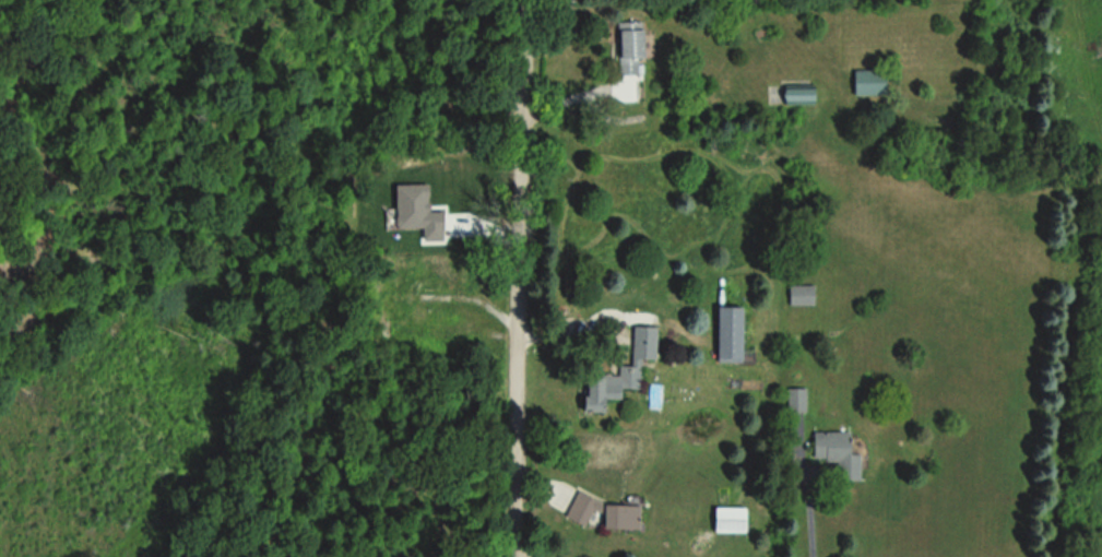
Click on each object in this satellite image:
building: (629, 46)
building: (868, 82)
road: (573, 91)
building: (797, 94)
building: (416, 210)
road: (514, 278)
building: (801, 294)
building: (728, 333)
building: (620, 370)
building: (795, 399)
building: (837, 452)
road: (806, 499)
building: (580, 508)
building: (620, 515)
building: (728, 519)

